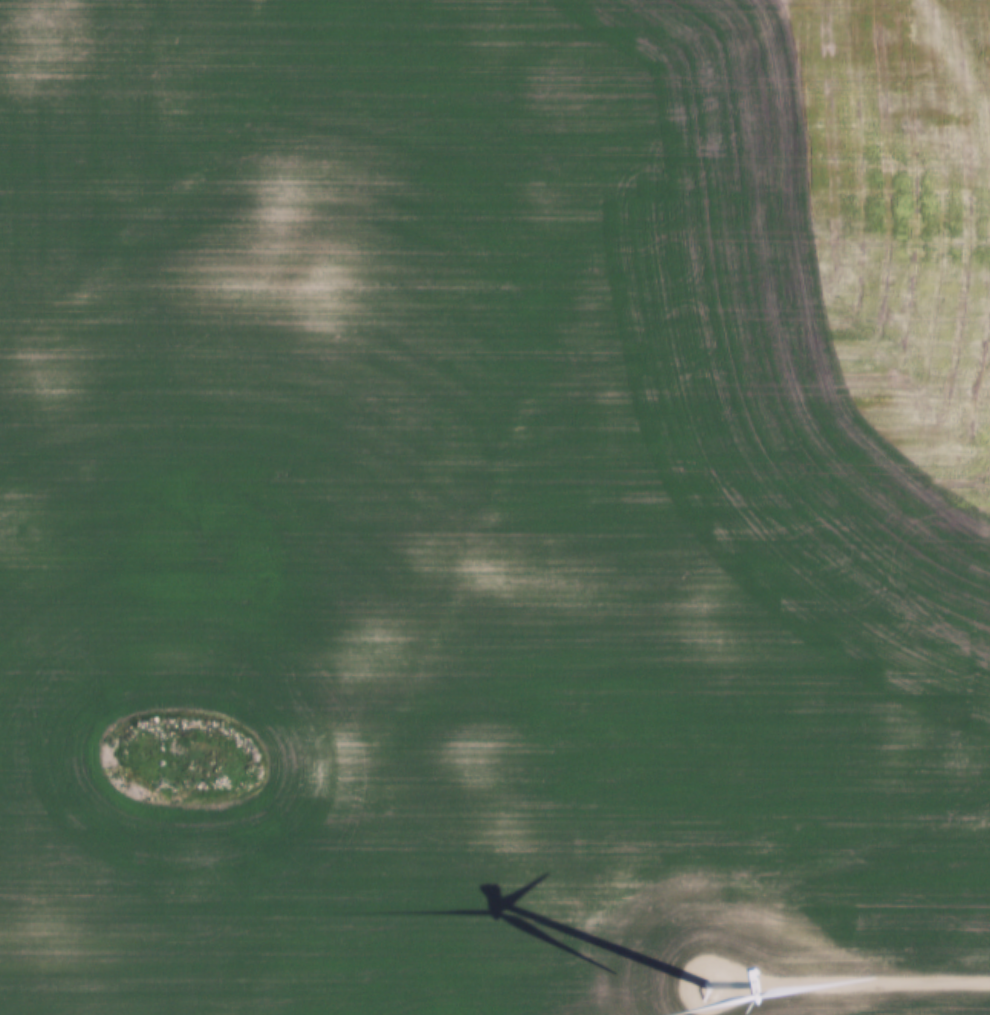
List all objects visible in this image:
wind turbine: (709, 980)

